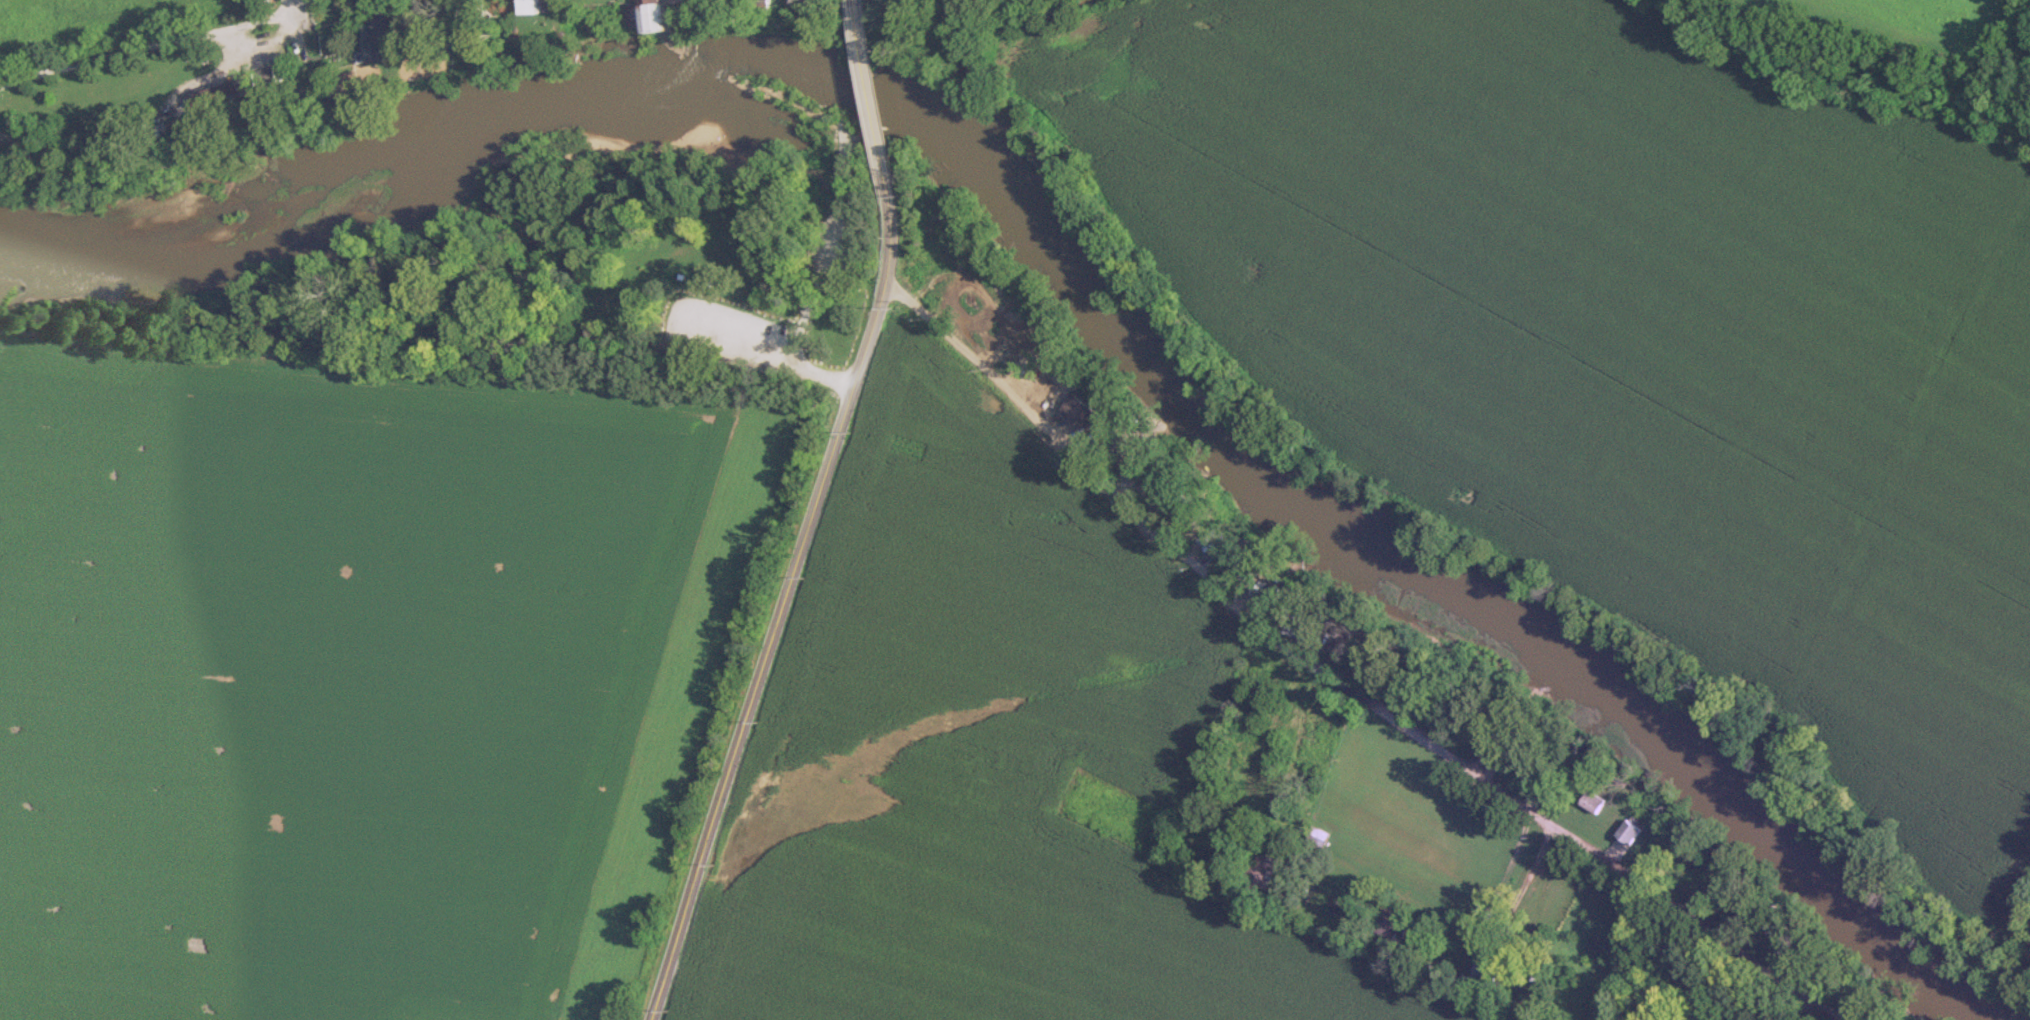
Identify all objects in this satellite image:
building: (806, 2)
road: (853, 2)
building: (758, 5)
building: (530, 6)
building: (656, 16)
building: (480, 25)
building: (383, 41)
road: (148, 48)
building: (235, 89)
road: (869, 90)
river: (1066, 260)
road: (767, 356)
building: (1079, 410)
building: (1179, 503)
building: (1217, 541)
road: (781, 599)
building: (1299, 629)
road: (1332, 664)
crop: (321, 675)
building: (1440, 709)
crop: (990, 759)
building: (1535, 765)
building: (1592, 802)
building: (1628, 831)
building: (1316, 834)
road: (1255, 867)
building: (1256, 873)
building: (1483, 970)
road: (1811, 1012)
road: (1830, 1012)

